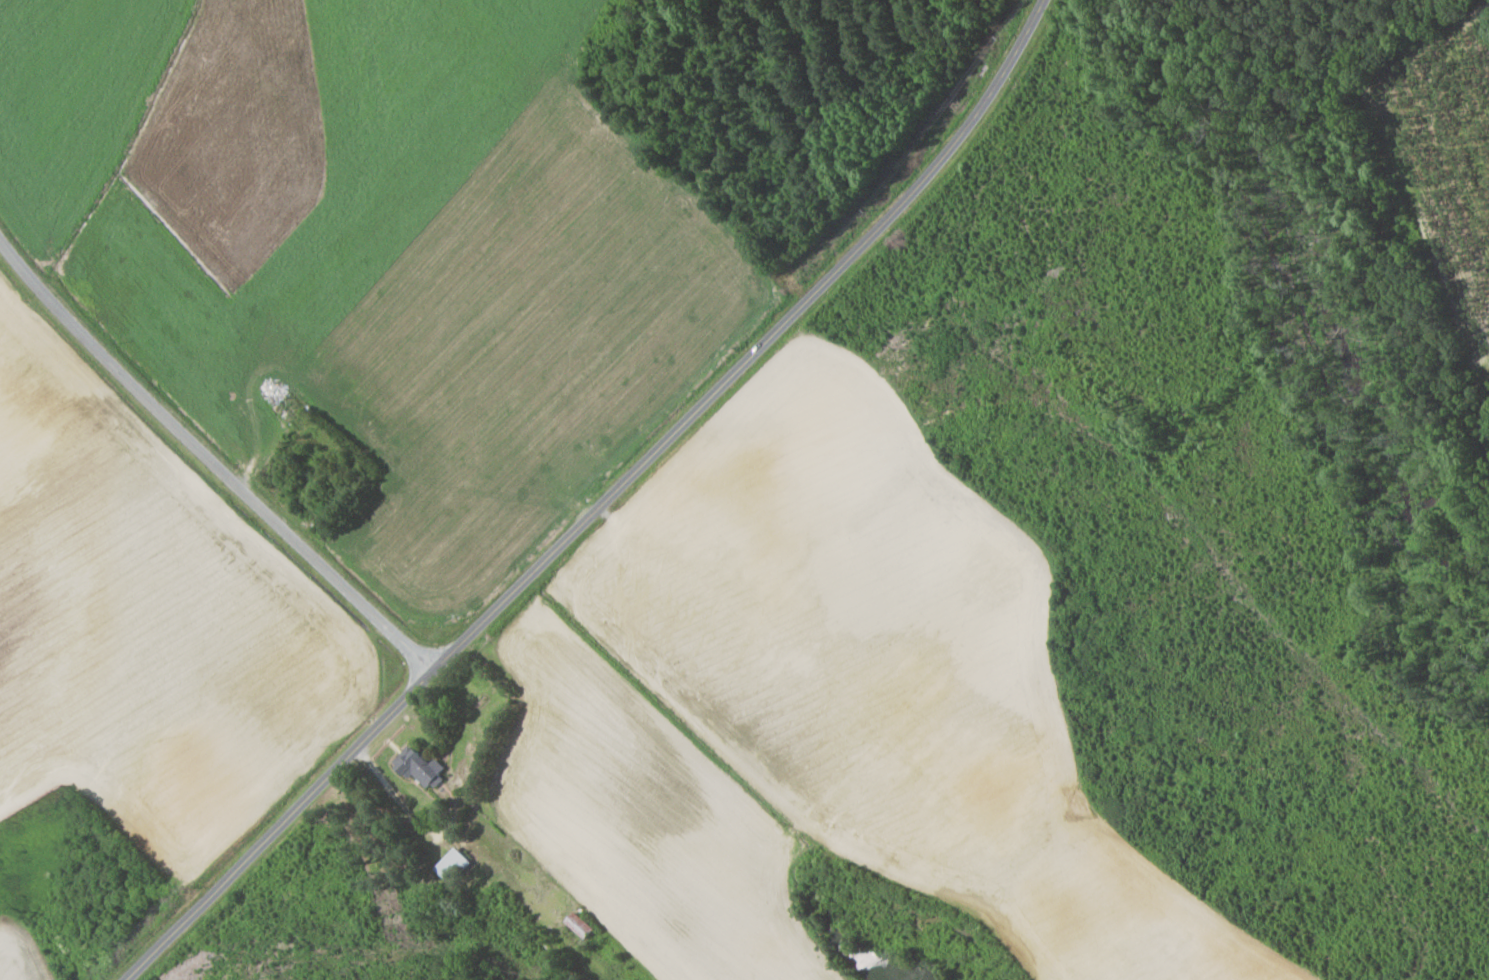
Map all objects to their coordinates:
road: (213, 461)
road: (600, 502)
building: (419, 766)
building: (453, 864)

